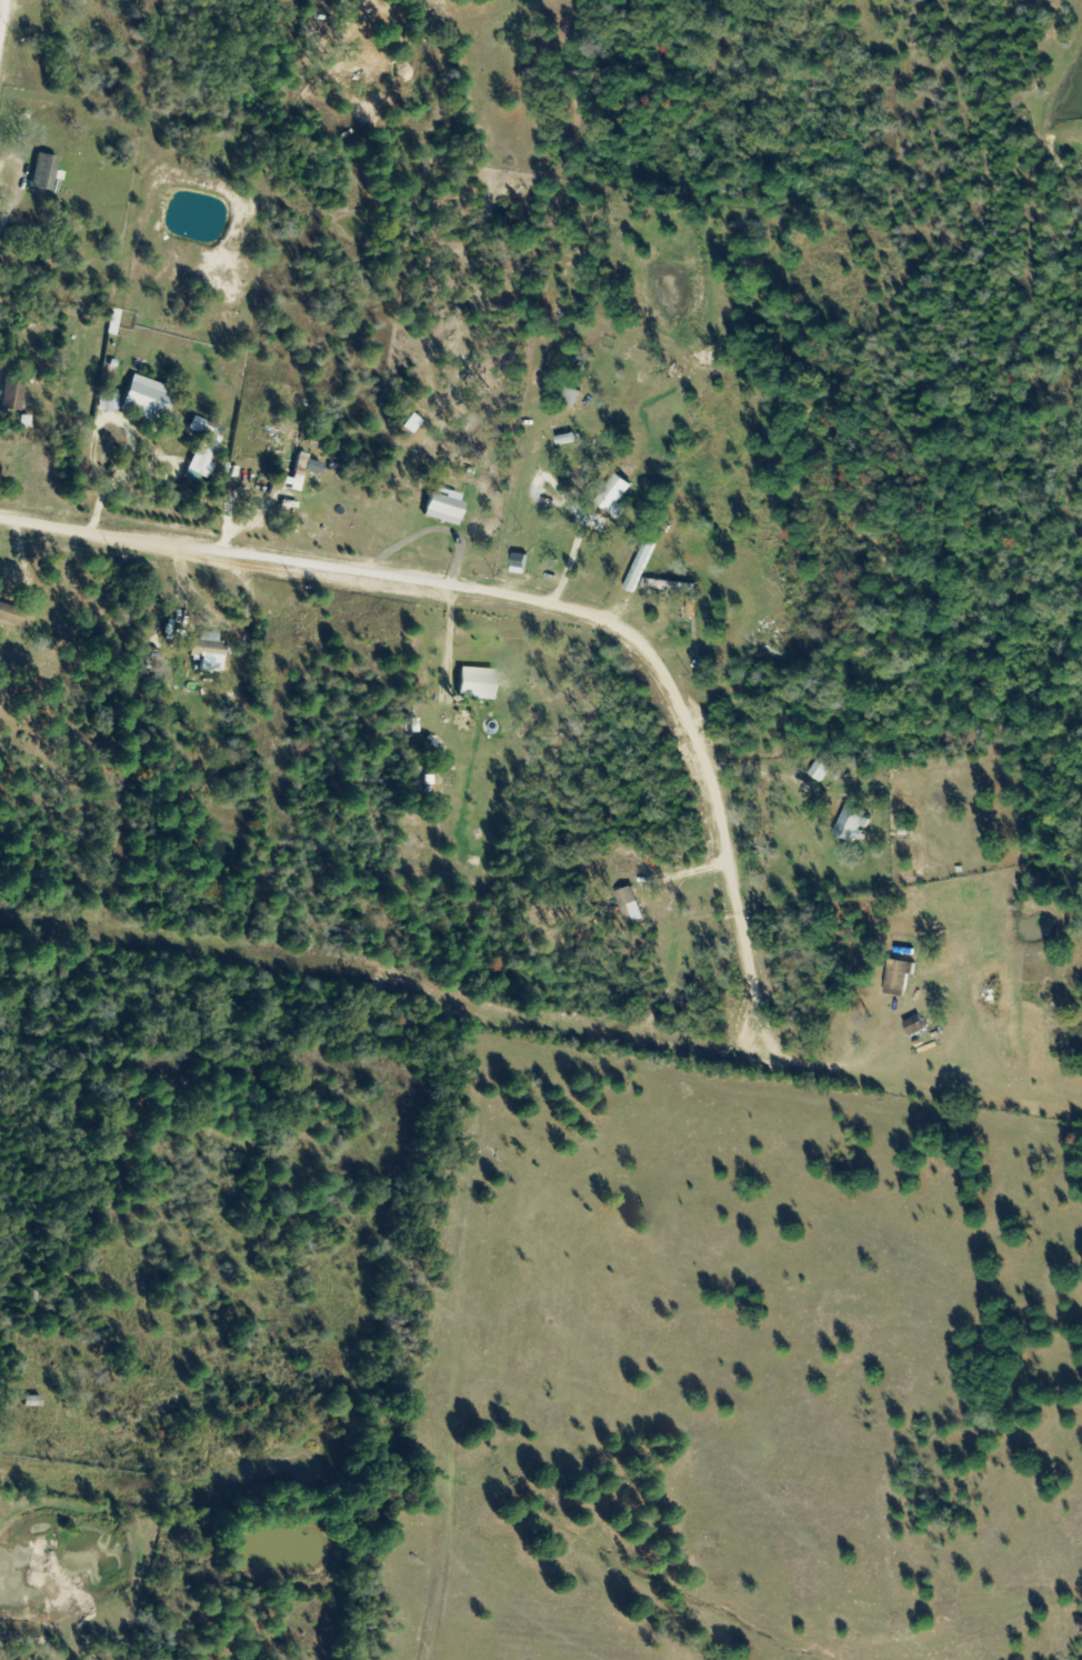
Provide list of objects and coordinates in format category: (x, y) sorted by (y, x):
building: (42, 172)
building: (11, 391)
building: (146, 399)
building: (611, 494)
building: (442, 509)
building: (664, 586)
road: (538, 608)
building: (10, 616)
building: (204, 649)
building: (474, 684)
building: (818, 771)
building: (850, 823)
building: (628, 906)
building: (896, 978)
road: (514, 1010)
building: (913, 1026)
building: (31, 1401)
road: (16, 1476)

